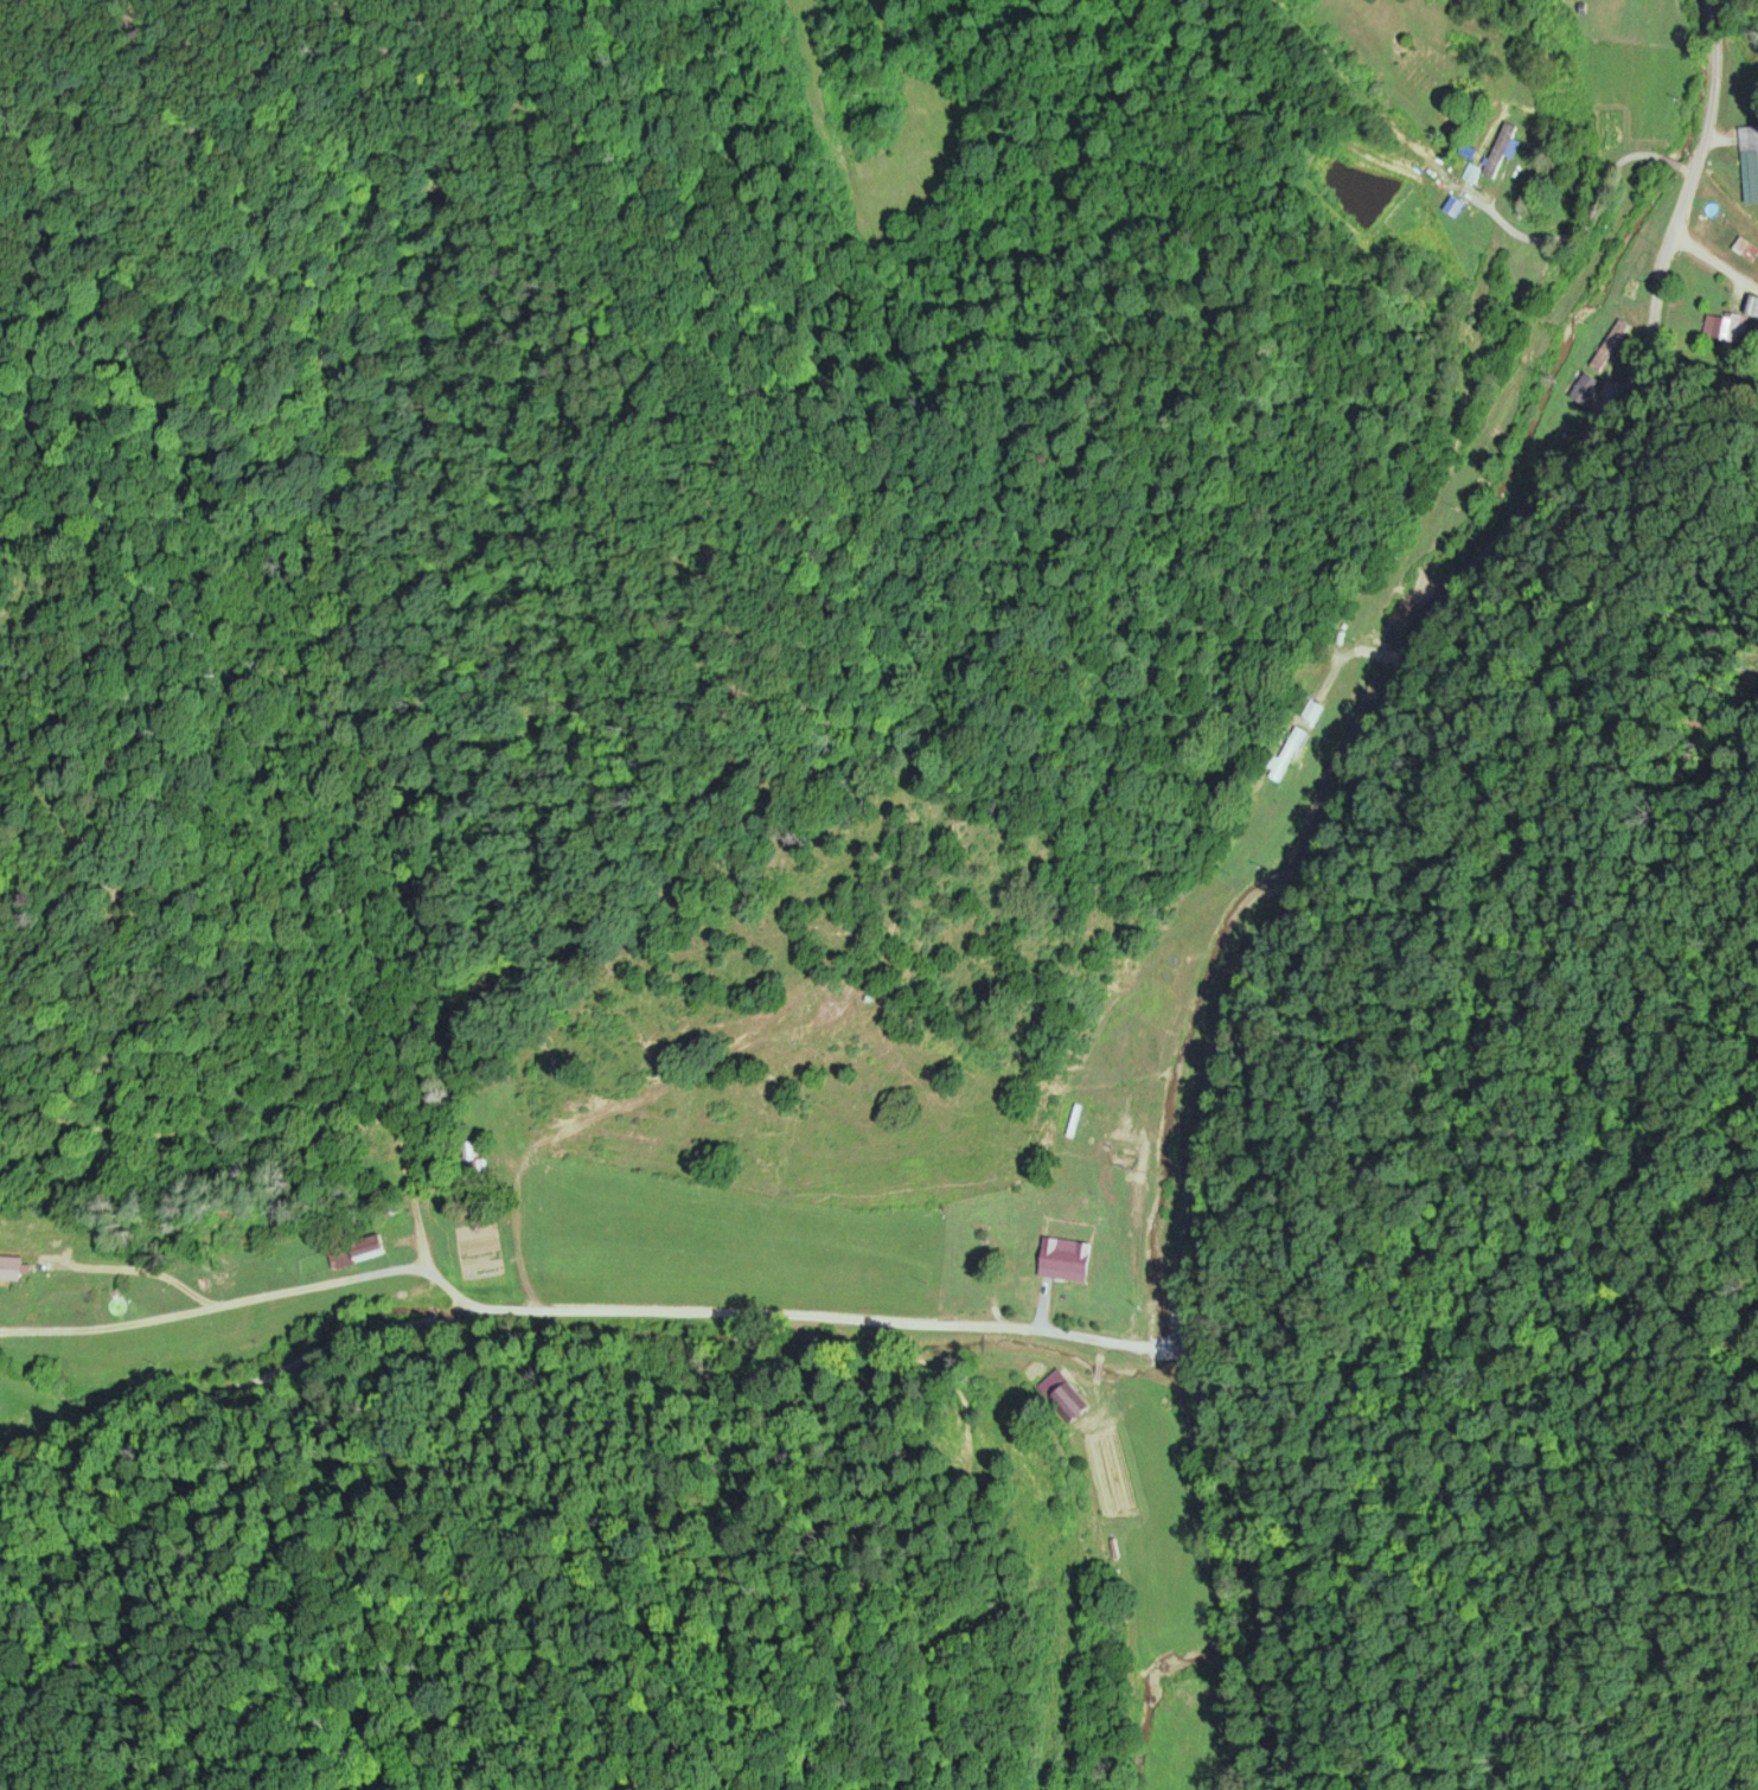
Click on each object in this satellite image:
building: (1506, 148)
building: (1751, 162)
road: (1743, 256)
building: (1752, 305)
building: (1717, 327)
building: (1612, 351)
building: (1591, 389)
road: (1354, 850)
building: (1073, 1259)
building: (15, 1266)
road: (276, 1286)
road: (599, 1302)

